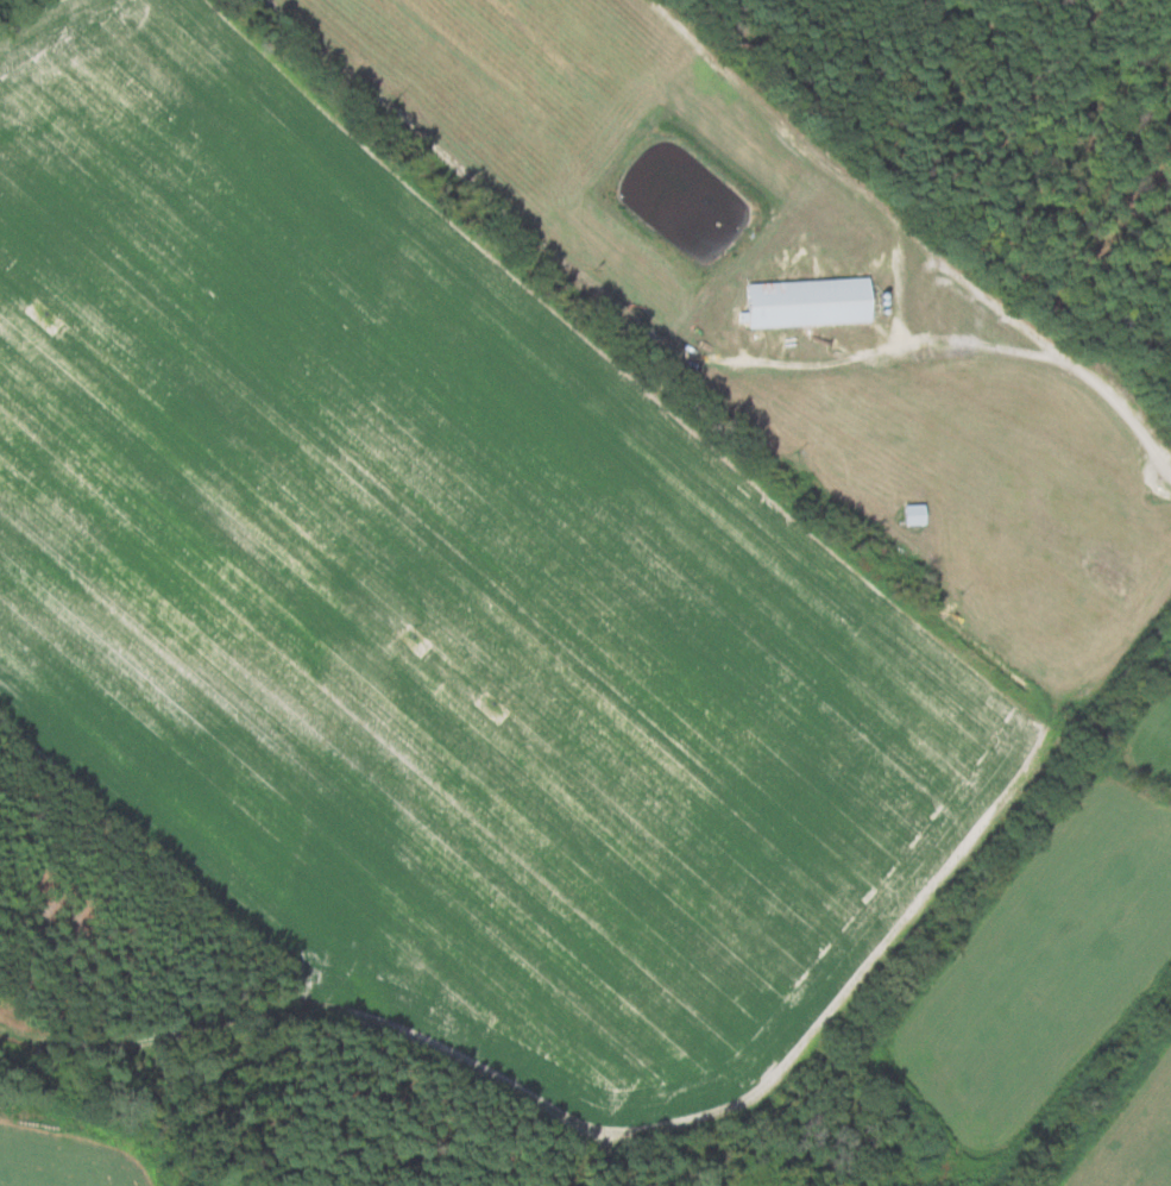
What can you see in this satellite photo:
building: (802, 303)
road: (980, 352)
building: (911, 514)

